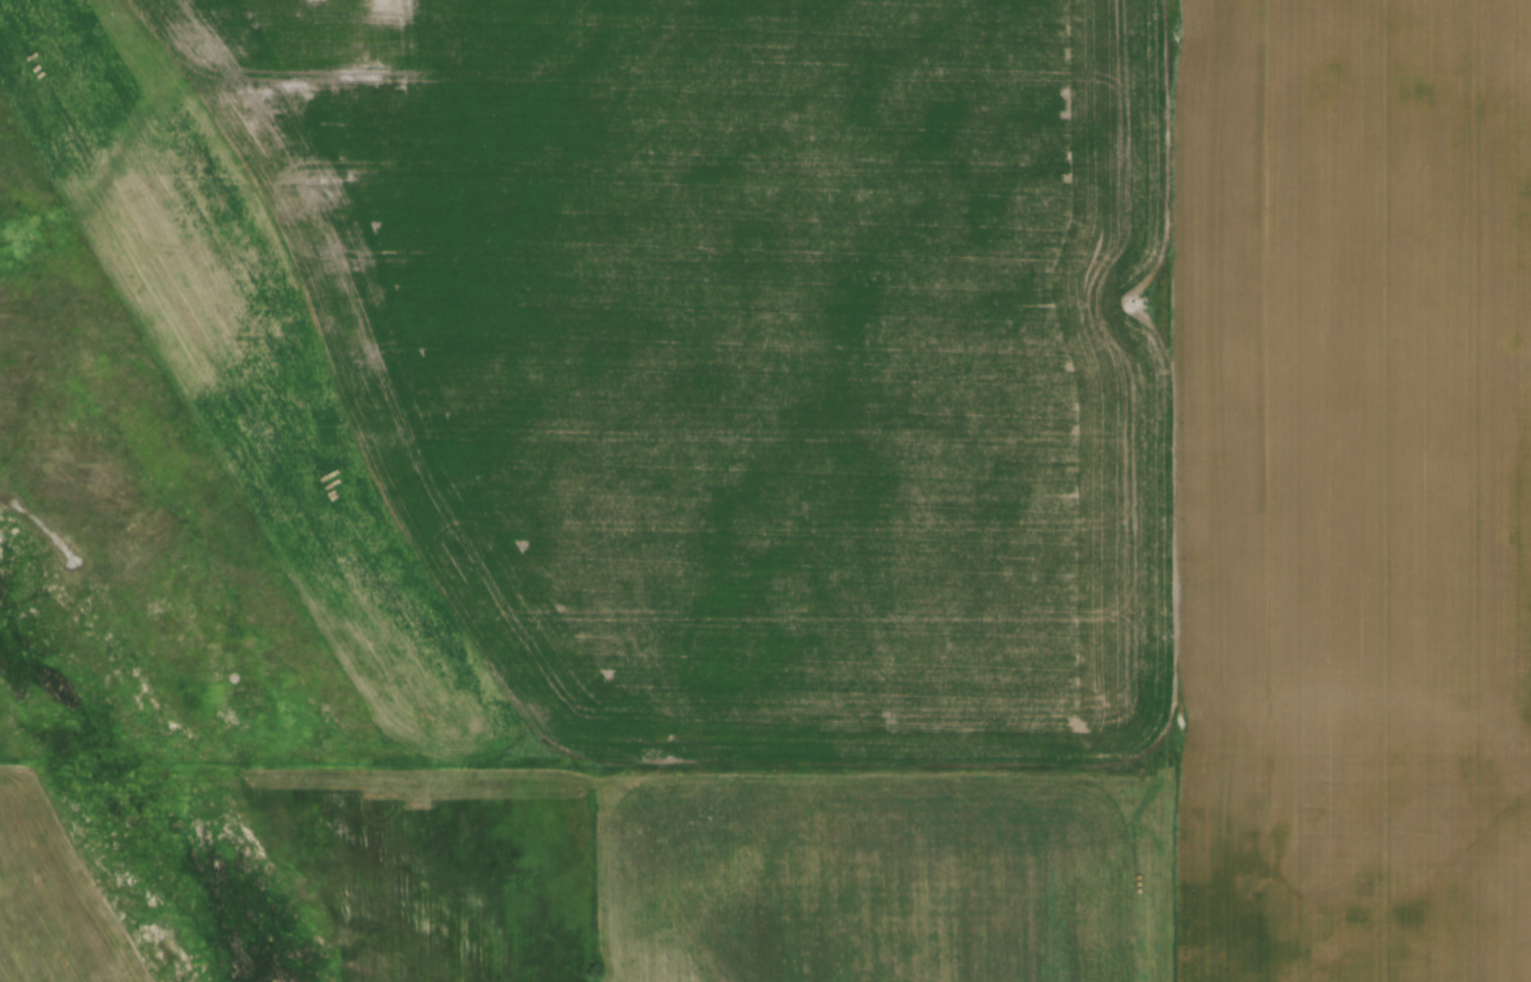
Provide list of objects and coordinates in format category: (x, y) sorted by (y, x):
road: (1164, 490)

